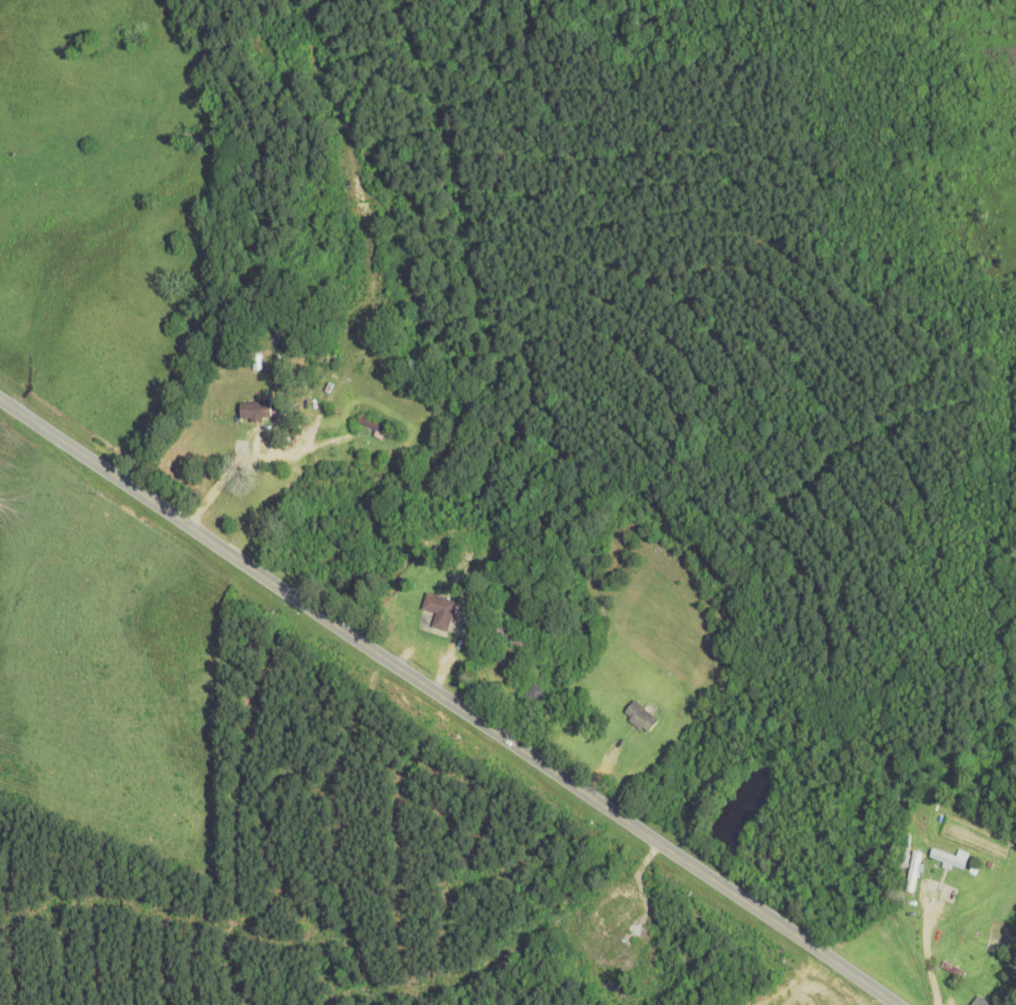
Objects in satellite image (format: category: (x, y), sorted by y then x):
building: (322, 359)
building: (257, 411)
building: (479, 551)
building: (438, 613)
building: (535, 690)
road: (449, 698)
building: (641, 717)
building: (907, 853)
building: (949, 894)
building: (627, 929)
road: (926, 945)

